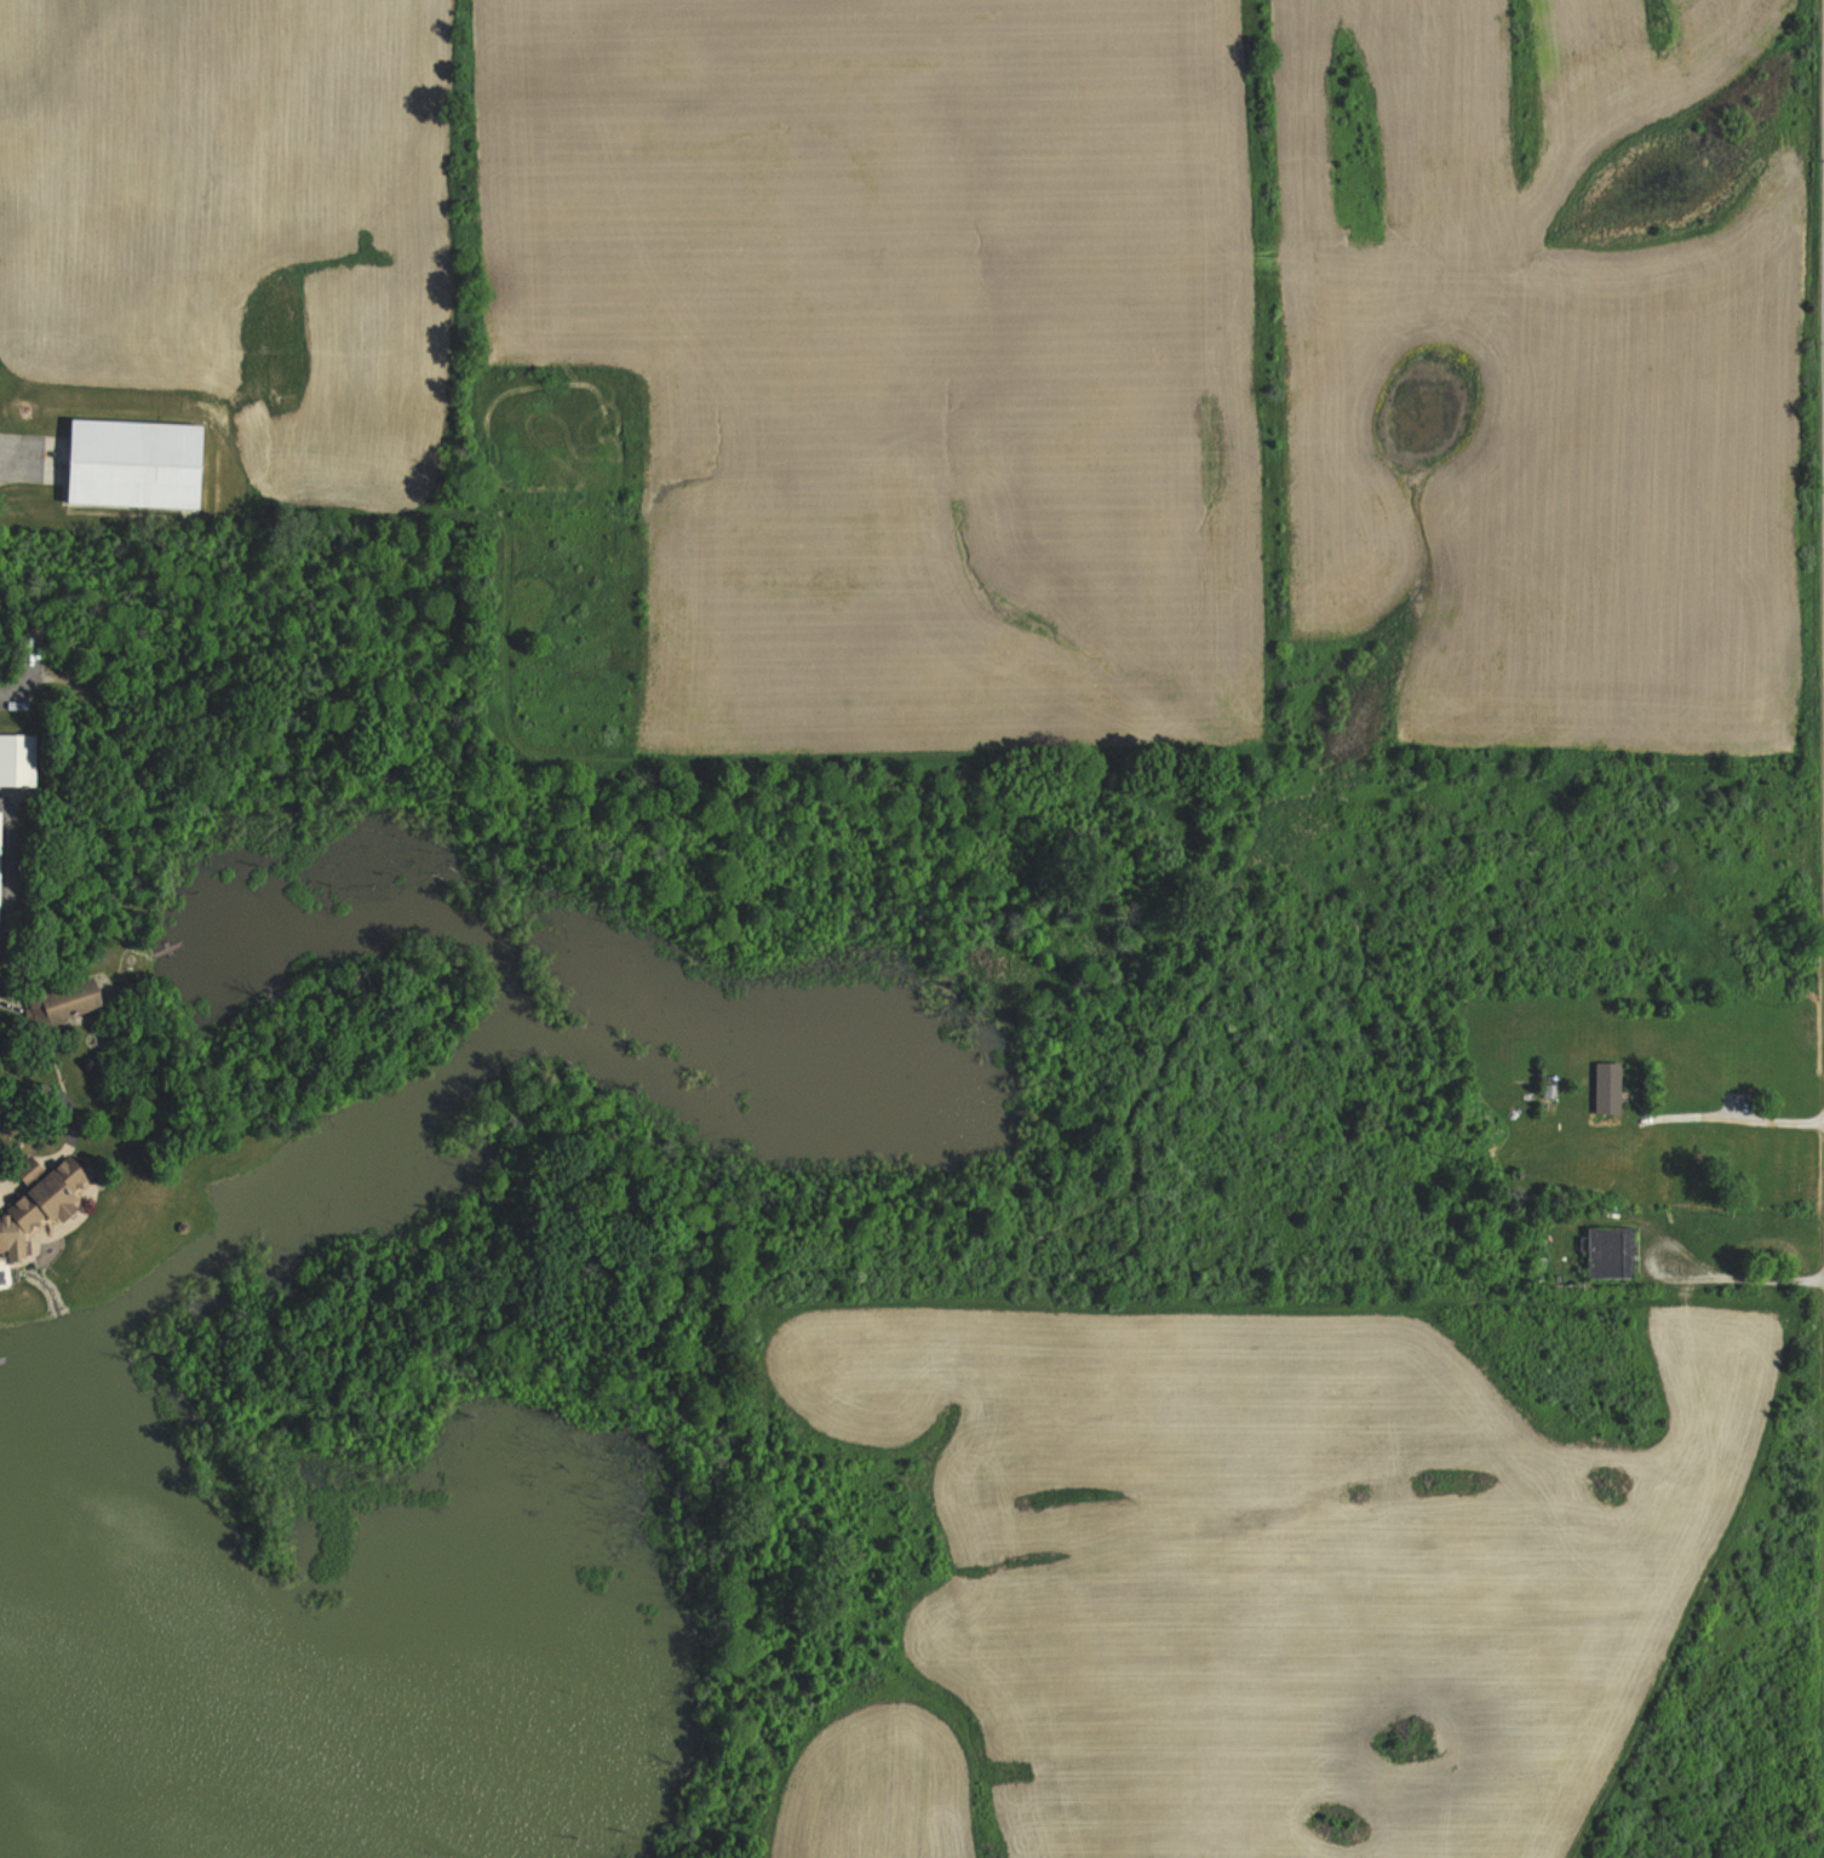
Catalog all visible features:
building: (137, 461)
building: (18, 758)
building: (1, 864)
building: (70, 1000)
building: (1608, 1088)
road: (1734, 1118)
building: (42, 1208)
building: (1611, 1252)
road: (1736, 1283)

